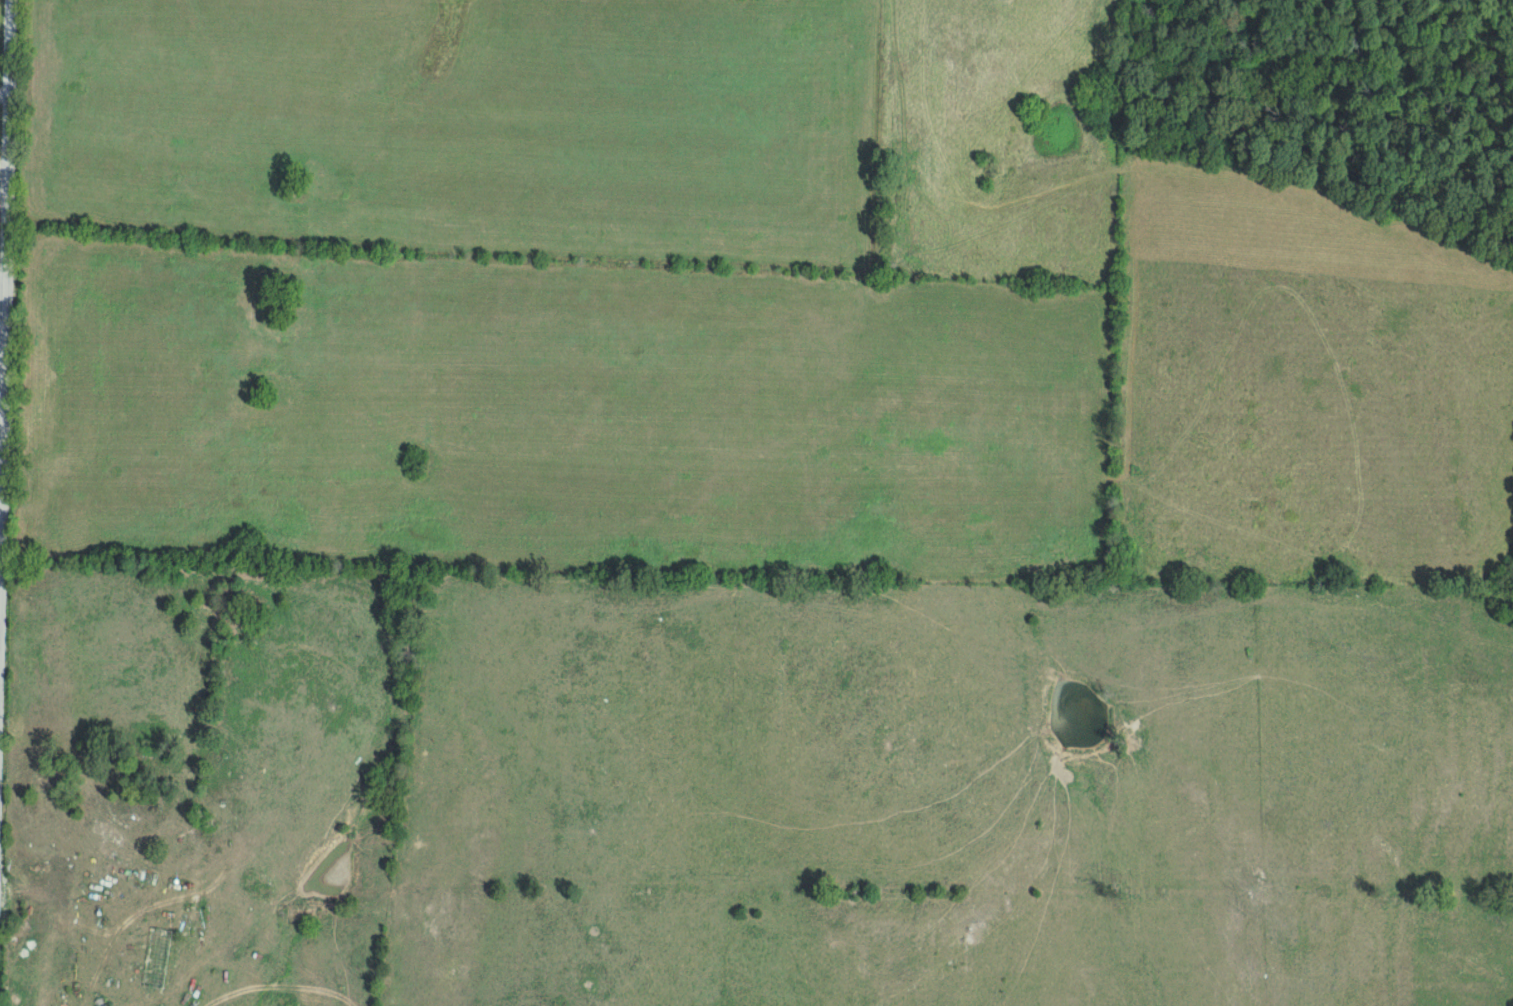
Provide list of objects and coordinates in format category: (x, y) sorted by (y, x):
road: (7, 216)
road: (273, 987)

